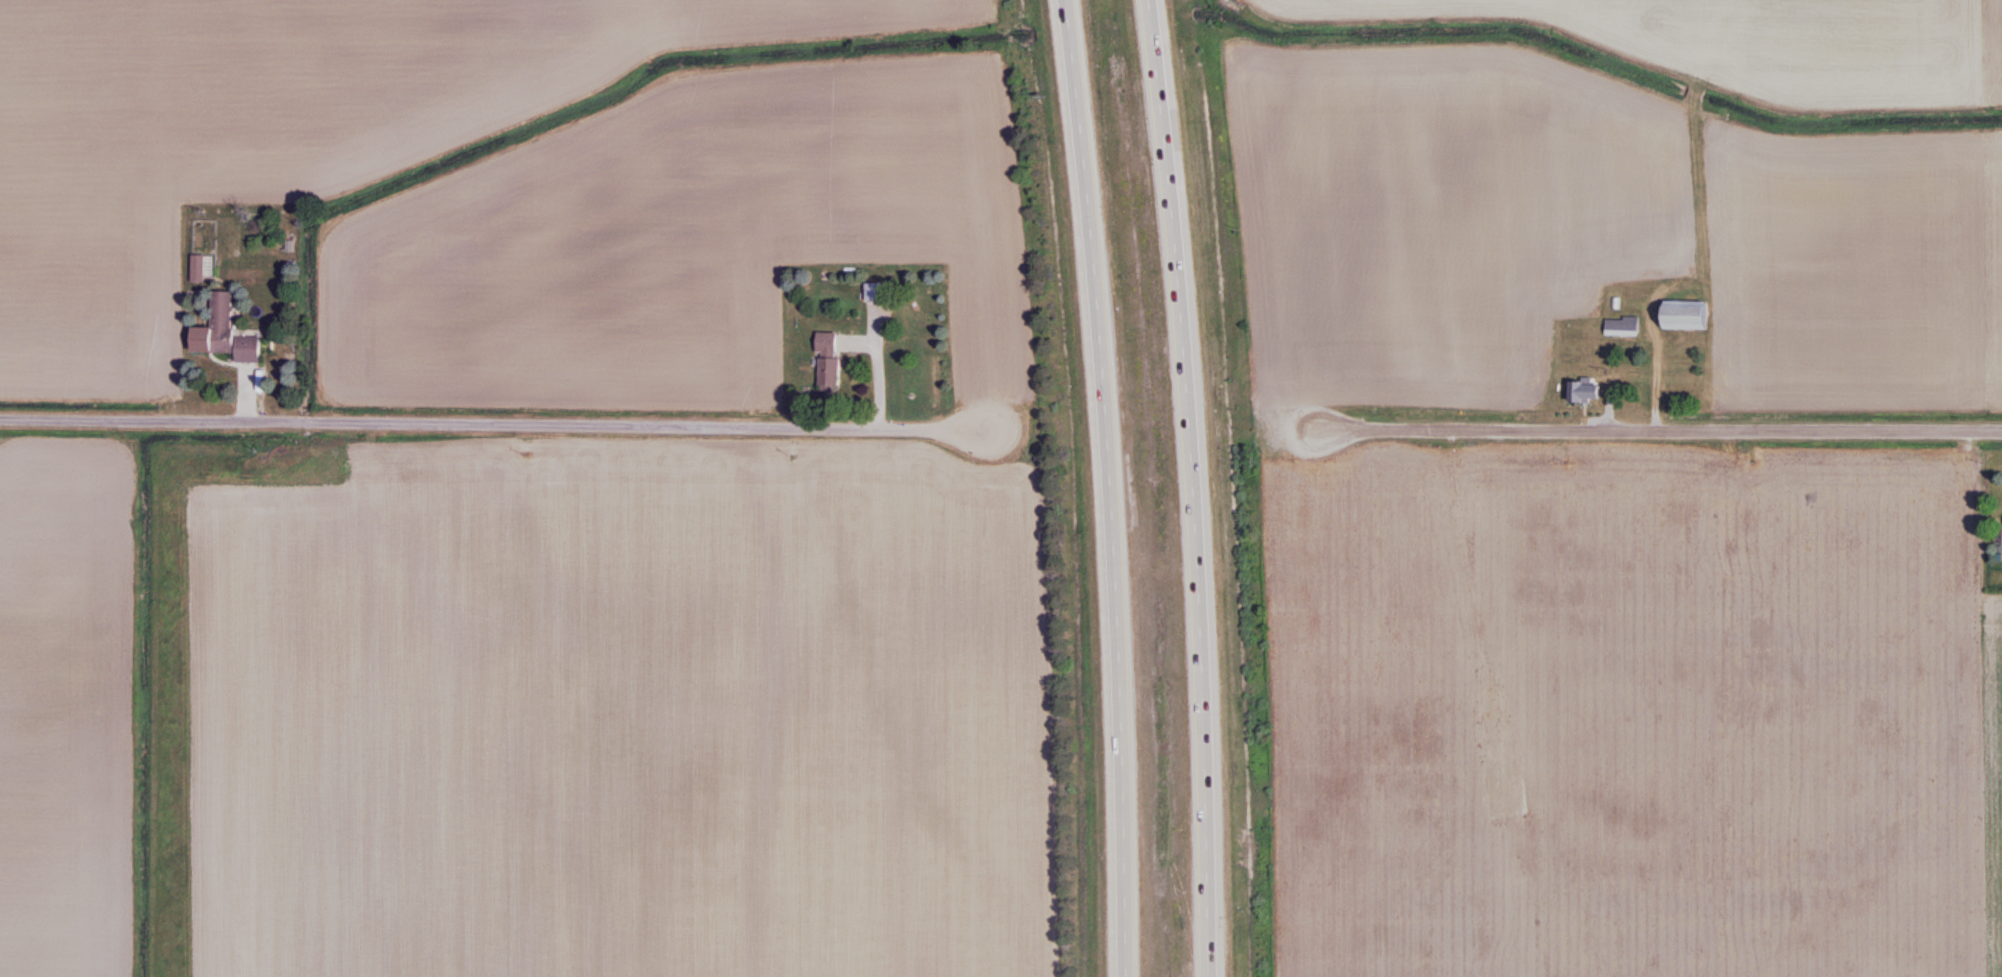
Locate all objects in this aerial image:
building: (874, 293)
building: (1683, 316)
building: (1622, 326)
building: (215, 327)
building: (247, 349)
building: (828, 361)
building: (1584, 392)
road: (491, 420)
road: (1661, 430)
road: (1105, 487)
road: (1194, 487)

